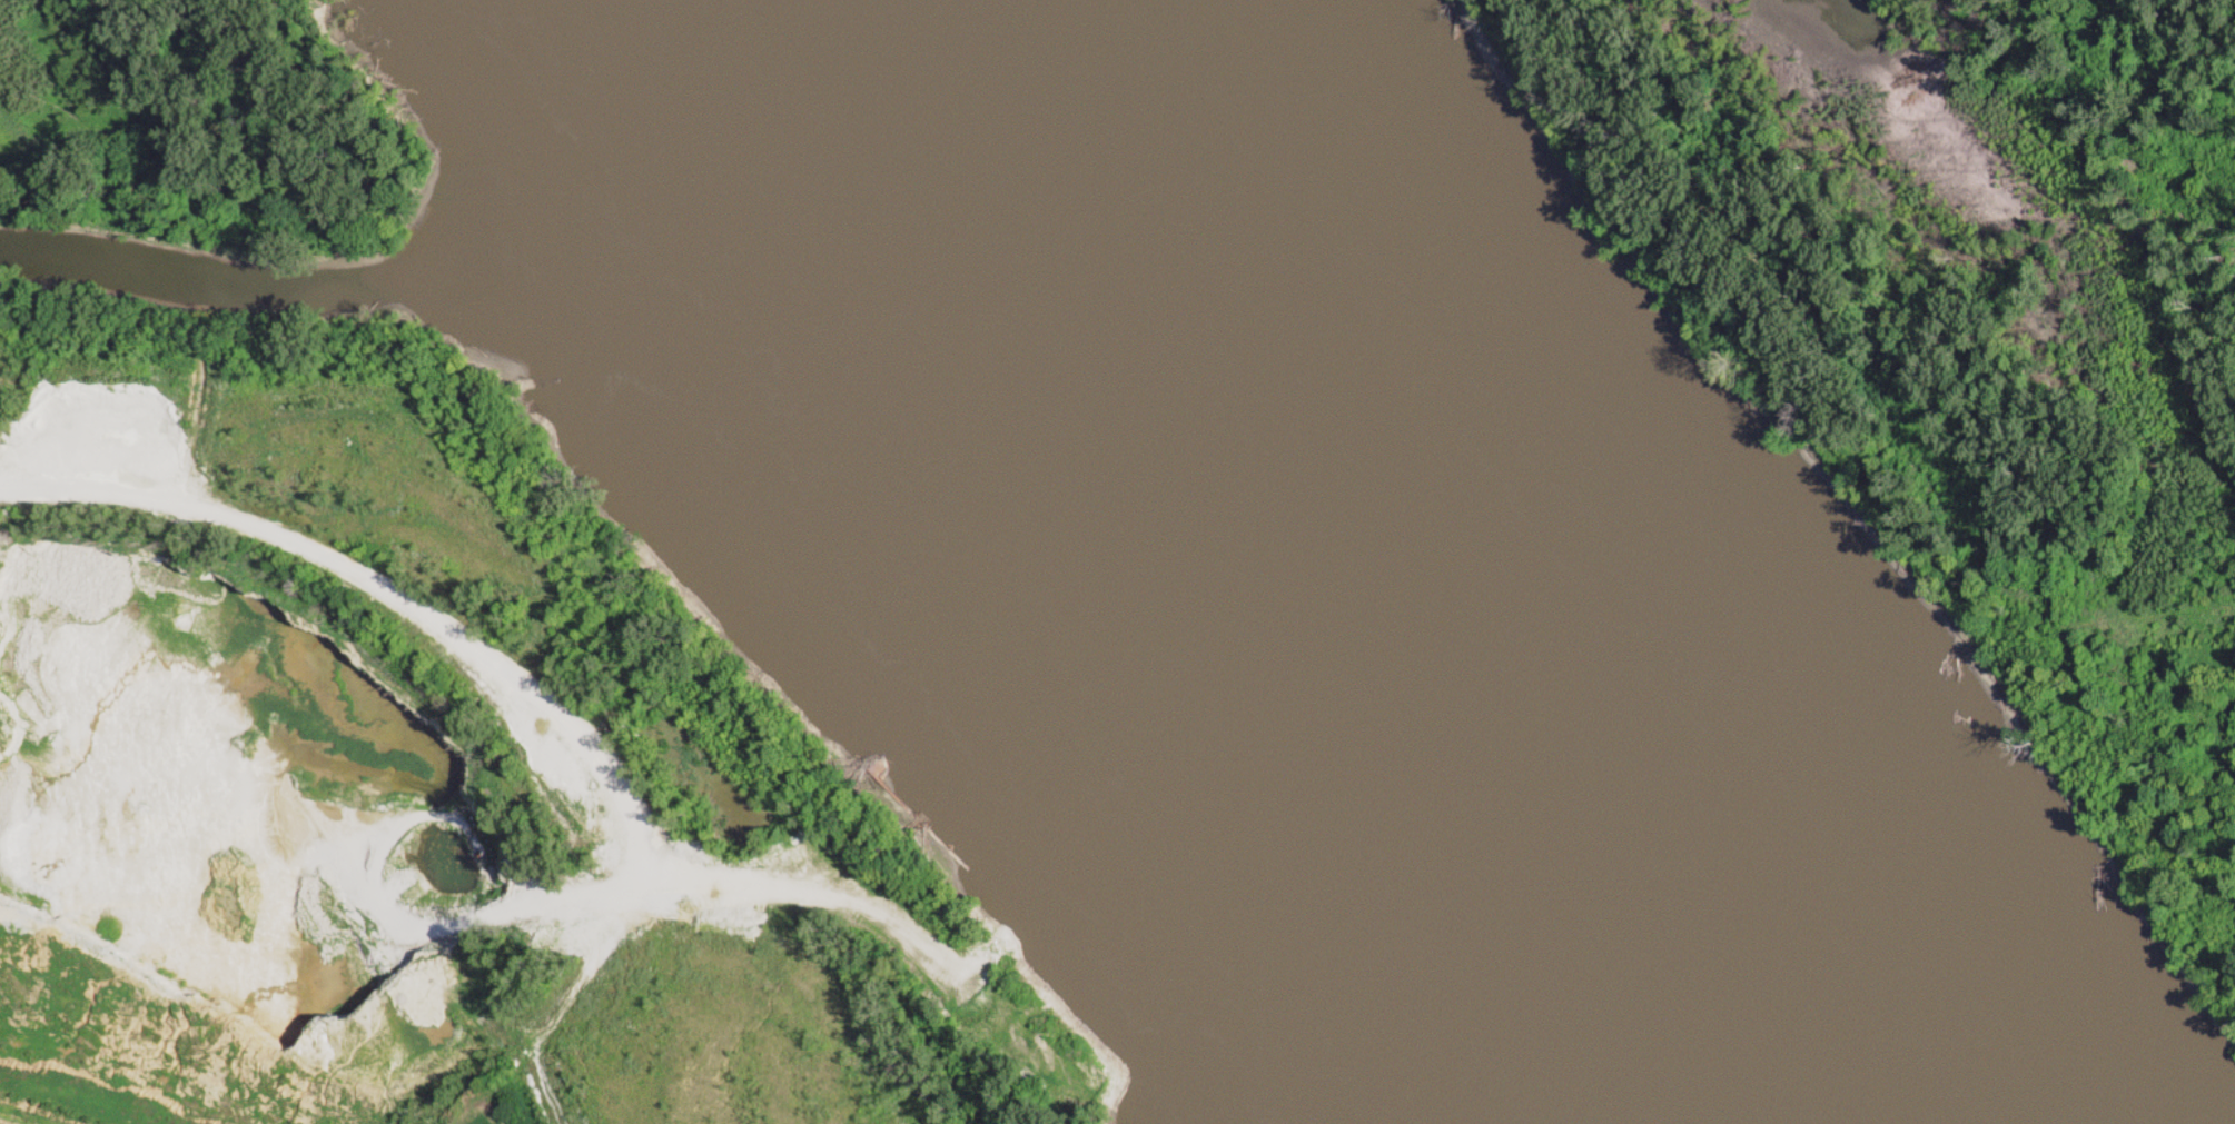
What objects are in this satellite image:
river: (1207, 561)
road: (407, 590)
road: (580, 904)

